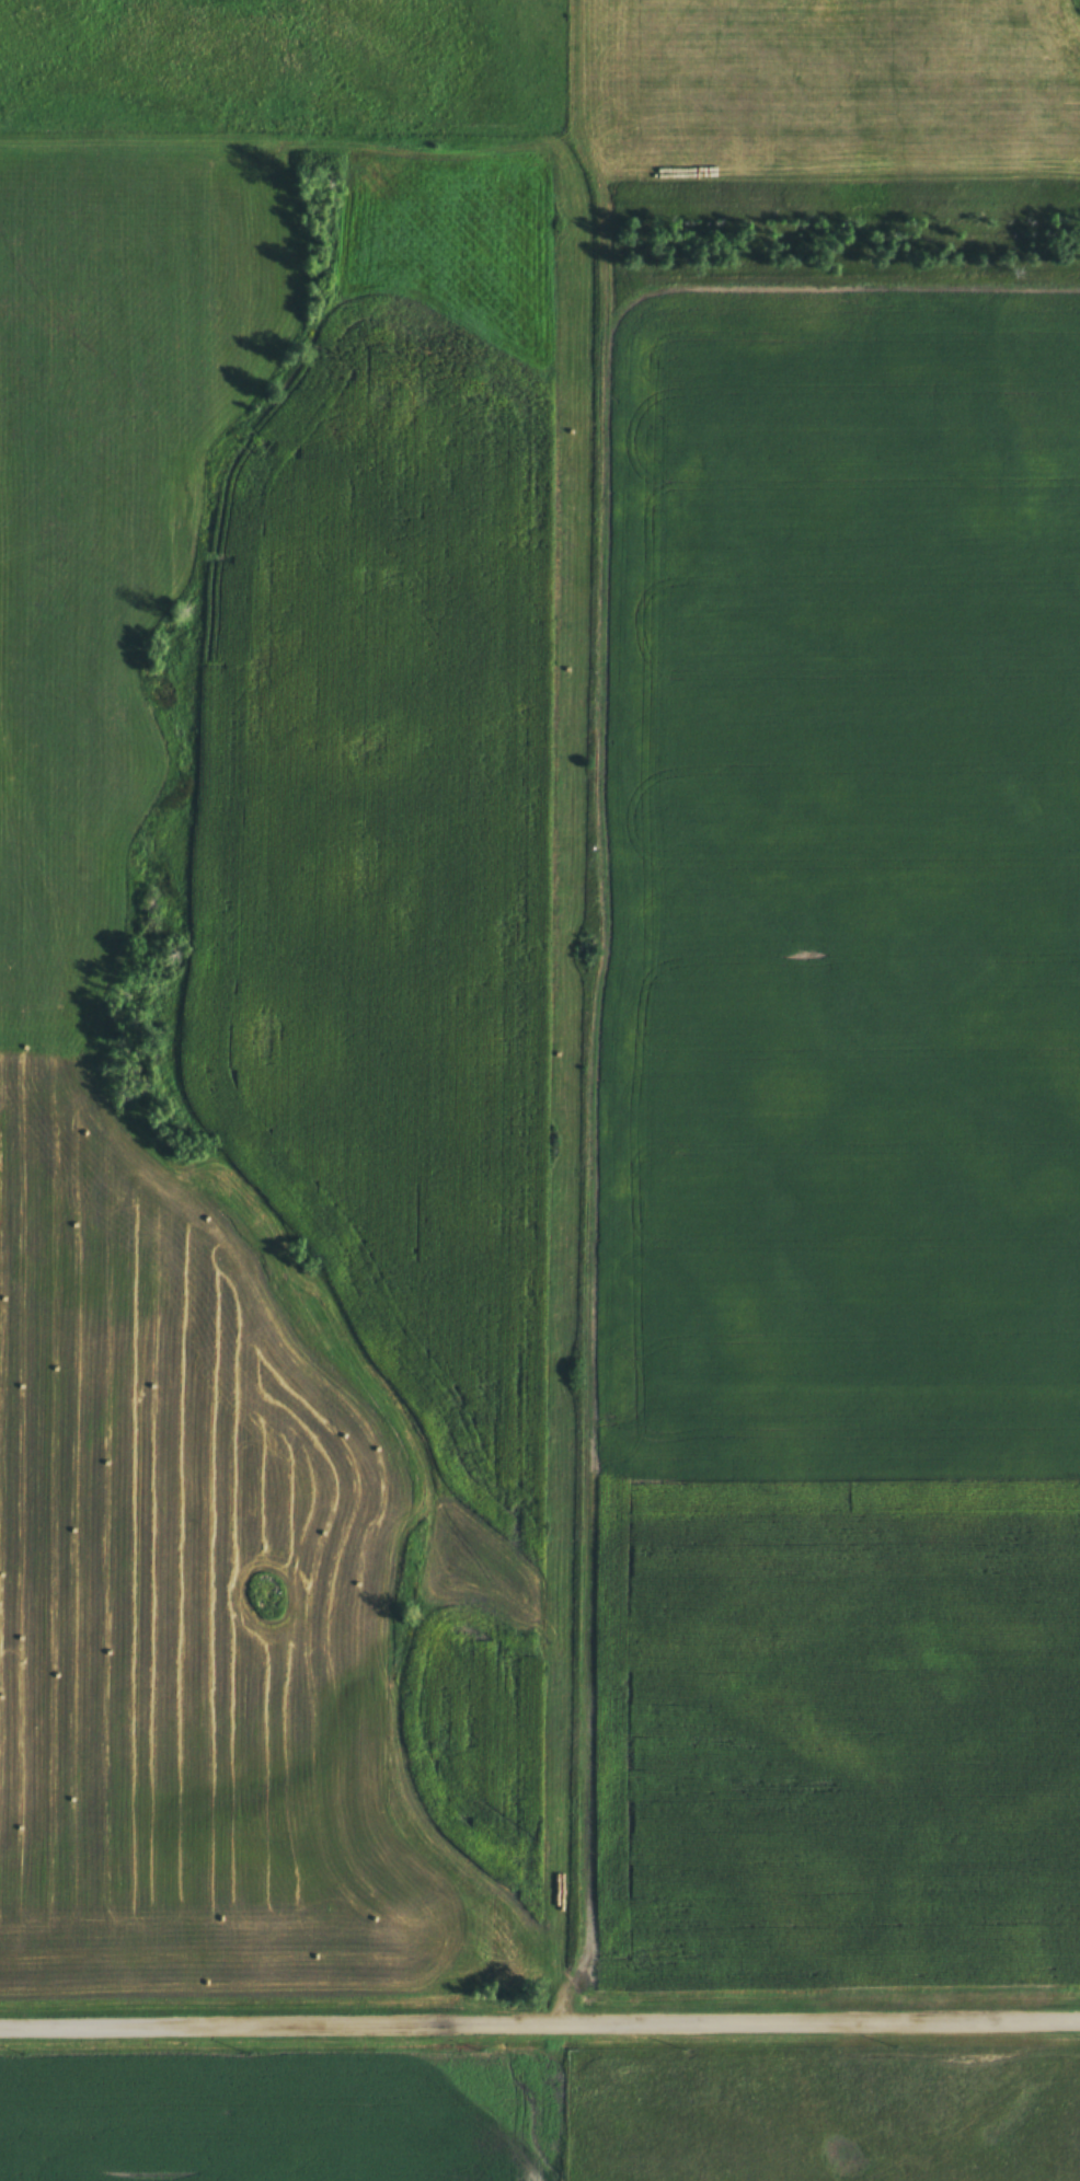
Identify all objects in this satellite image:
road: (540, 2021)

